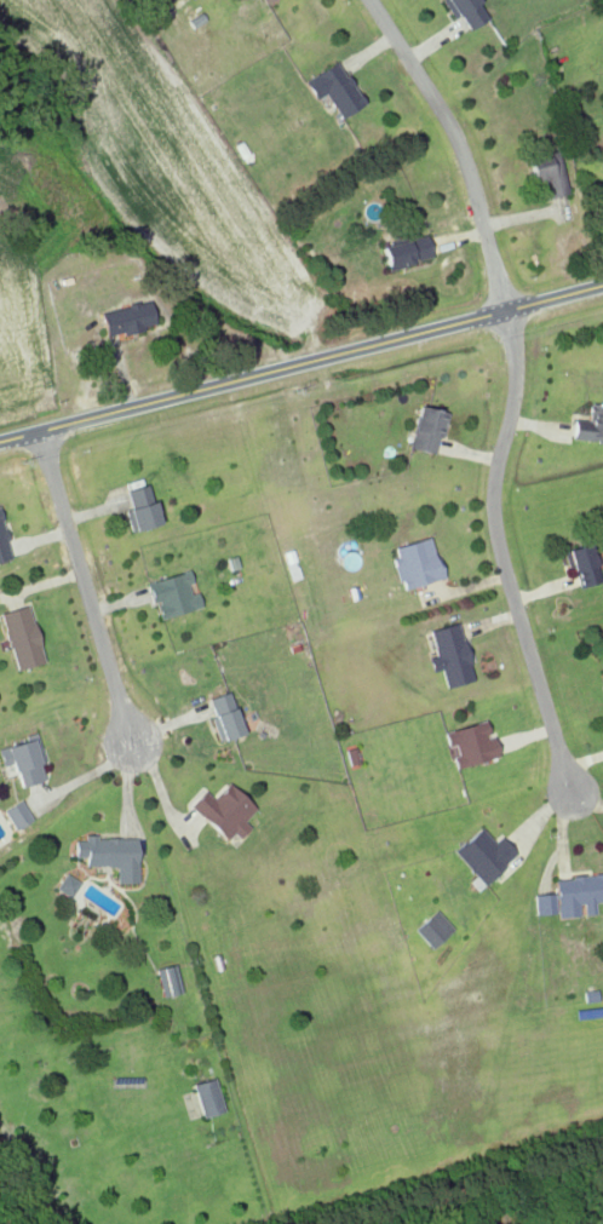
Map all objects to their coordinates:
building: (260, 1)
building: (467, 12)
building: (333, 88)
road: (460, 149)
building: (547, 172)
building: (406, 251)
building: (126, 318)
road: (458, 328)
road: (156, 400)
building: (588, 425)
building: (426, 429)
building: (140, 506)
building: (2, 544)
building: (415, 563)
road: (512, 563)
building: (582, 565)
road: (88, 590)
building: (172, 594)
building: (21, 637)
building: (449, 655)
building: (602, 672)
building: (225, 716)
building: (470, 743)
building: (23, 759)
building: (223, 811)
building: (16, 814)
building: (483, 854)
building: (109, 855)
building: (67, 885)
building: (570, 896)
building: (432, 929)
building: (168, 979)
building: (207, 1097)

